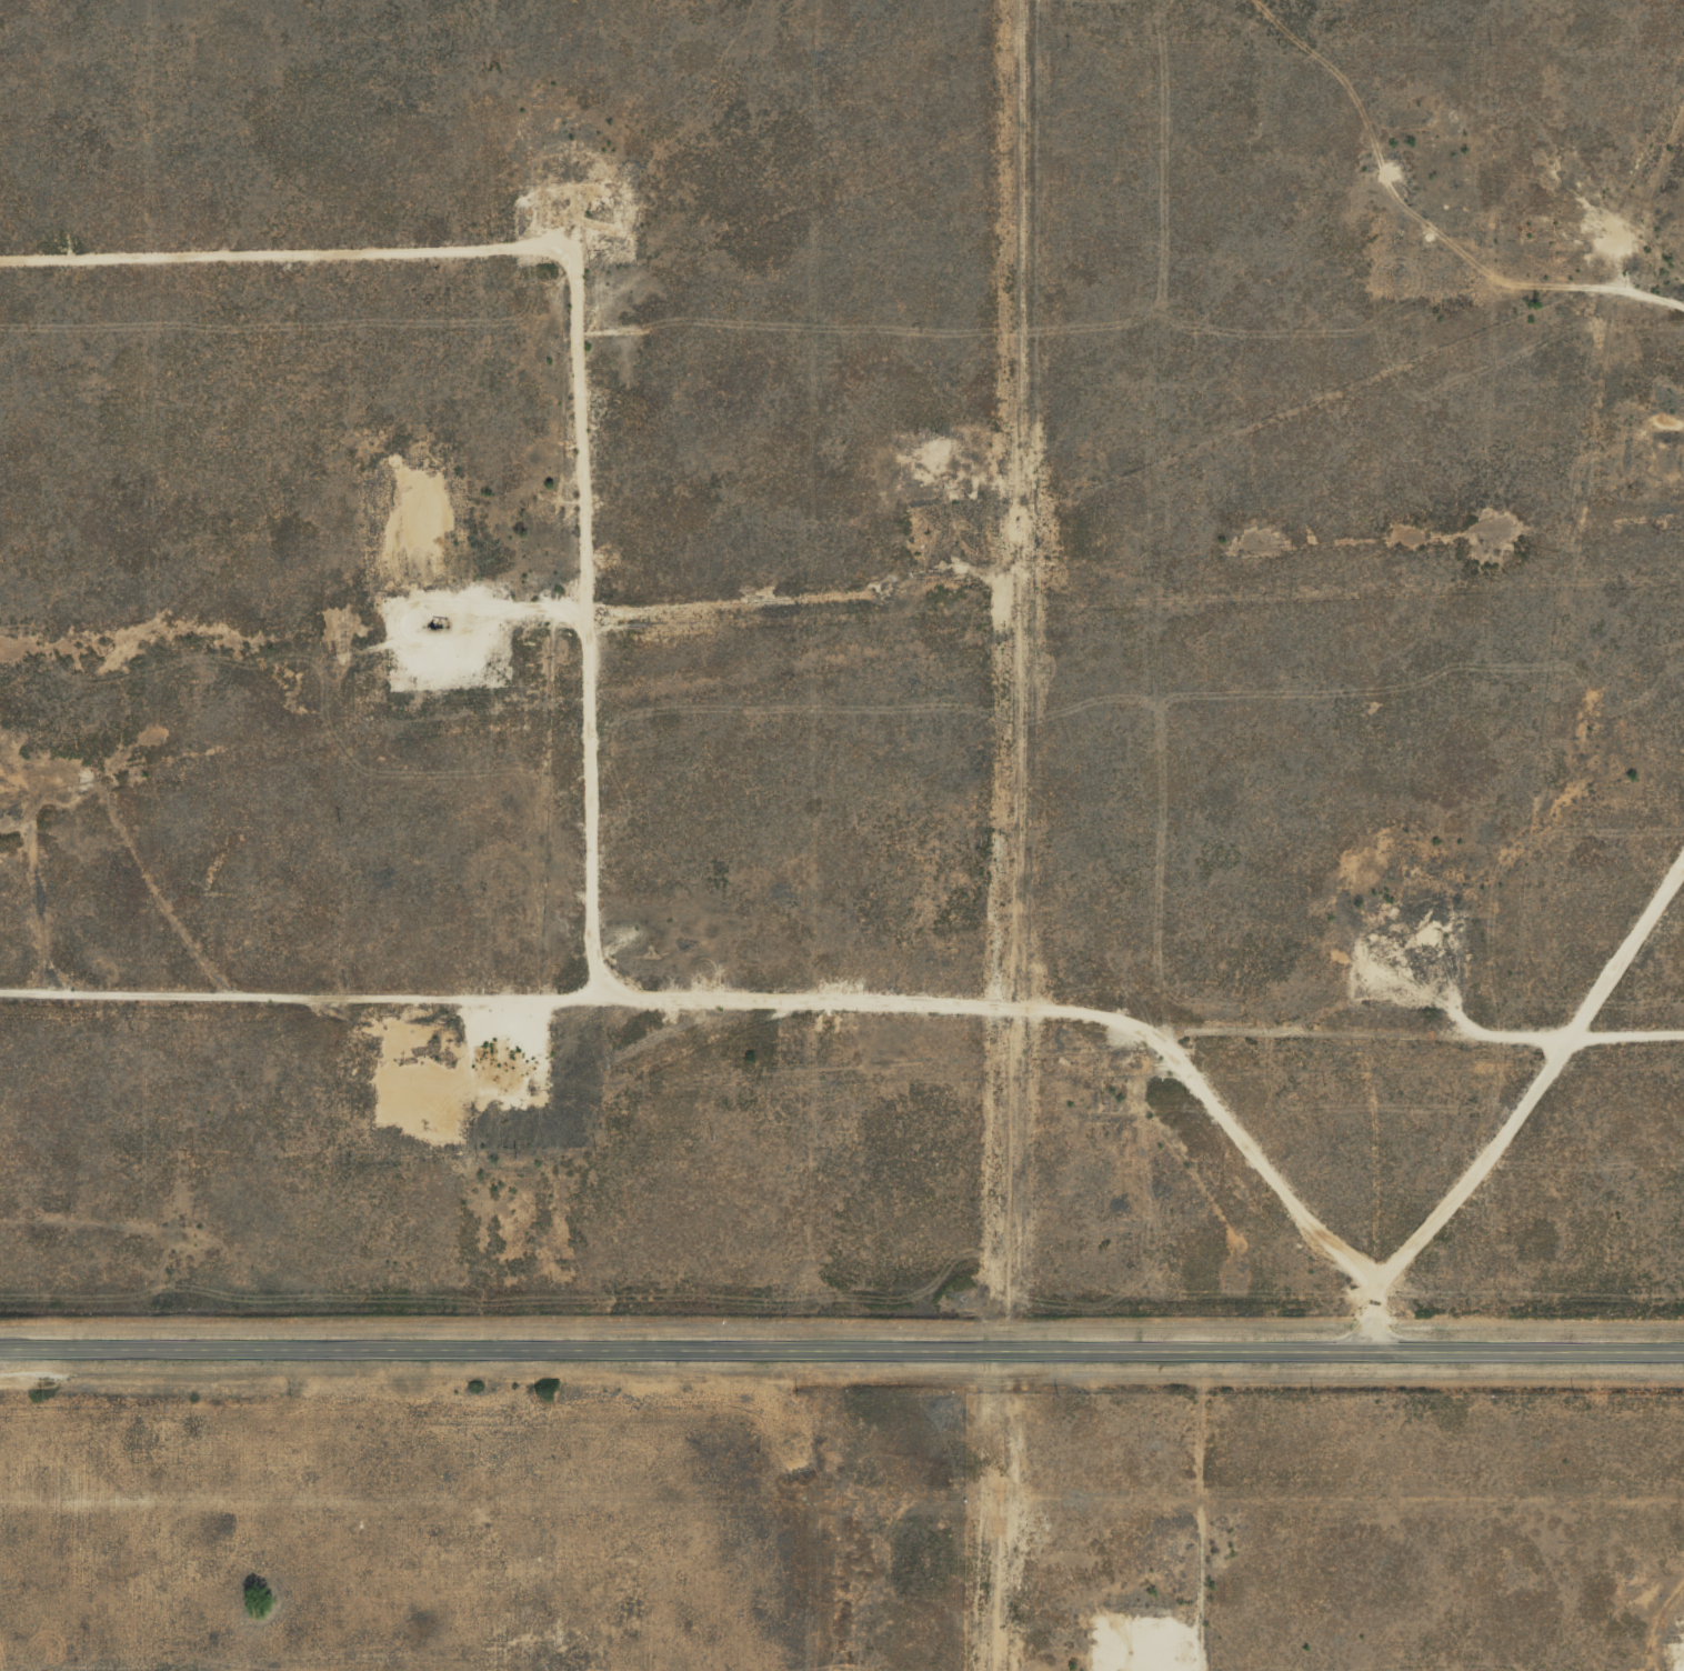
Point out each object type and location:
road: (1681, 301)
road: (583, 648)
road: (770, 1003)
road: (1628, 1030)
road: (1518, 1109)
road: (841, 1350)

